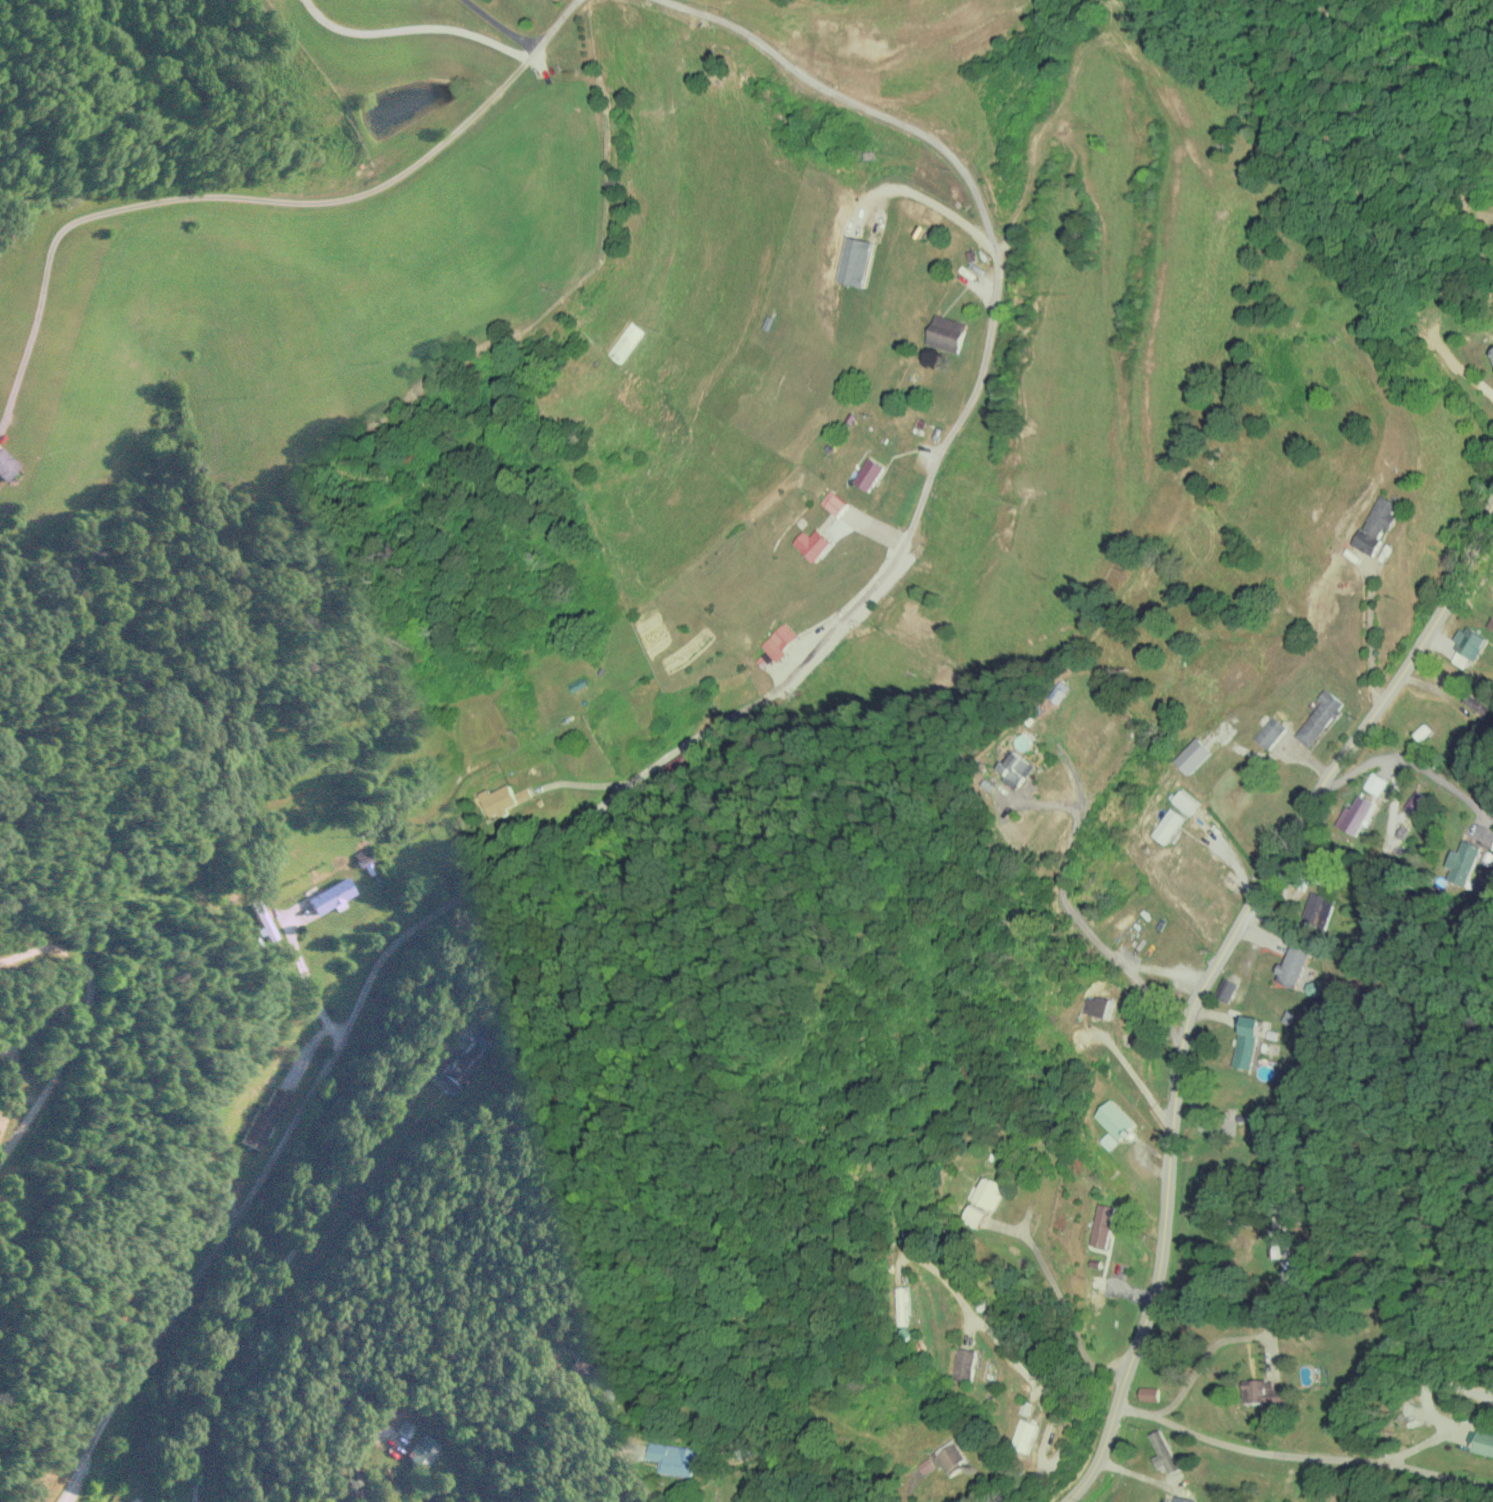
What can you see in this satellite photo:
road: (253, 196)
building: (855, 261)
building: (946, 333)
building: (1492, 352)
building: (5, 464)
building: (869, 473)
building: (833, 503)
building: (1376, 524)
building: (813, 544)
building: (779, 642)
building: (1469, 642)
building: (1059, 691)
building: (1479, 705)
building: (1319, 718)
building: (1270, 731)
building: (1421, 731)
road: (696, 733)
building: (1193, 755)
building: (679, 761)
road: (1406, 762)
building: (1015, 769)
building: (1375, 783)
building: (503, 799)
building: (1185, 801)
building: (1415, 801)
building: (1355, 814)
building: (1168, 825)
building: (360, 857)
building: (1463, 862)
building: (328, 895)
building: (1318, 909)
road: (1070, 913)
building: (260, 919)
building: (1292, 966)
road: (1207, 976)
building: (1226, 990)
building: (1098, 1006)
building: (1246, 1041)
building: (454, 1065)
building: (261, 1118)
building: (1115, 1119)
building: (231, 1186)
building: (987, 1193)
building: (975, 1215)
building: (1102, 1225)
road: (296, 1248)
road: (987, 1299)
building: (1094, 1301)
building: (902, 1304)
building: (964, 1364)
building: (583, 1372)
road: (1073, 1378)
building: (1261, 1391)
building: (1149, 1393)
building: (403, 1428)
building: (1024, 1433)
building: (1481, 1442)
building: (421, 1450)
building: (1163, 1452)
building: (951, 1456)
road: (1295, 1456)
building: (672, 1458)
road: (753, 1464)
building: (926, 1464)
road: (350, 1483)
building: (1180, 1499)

